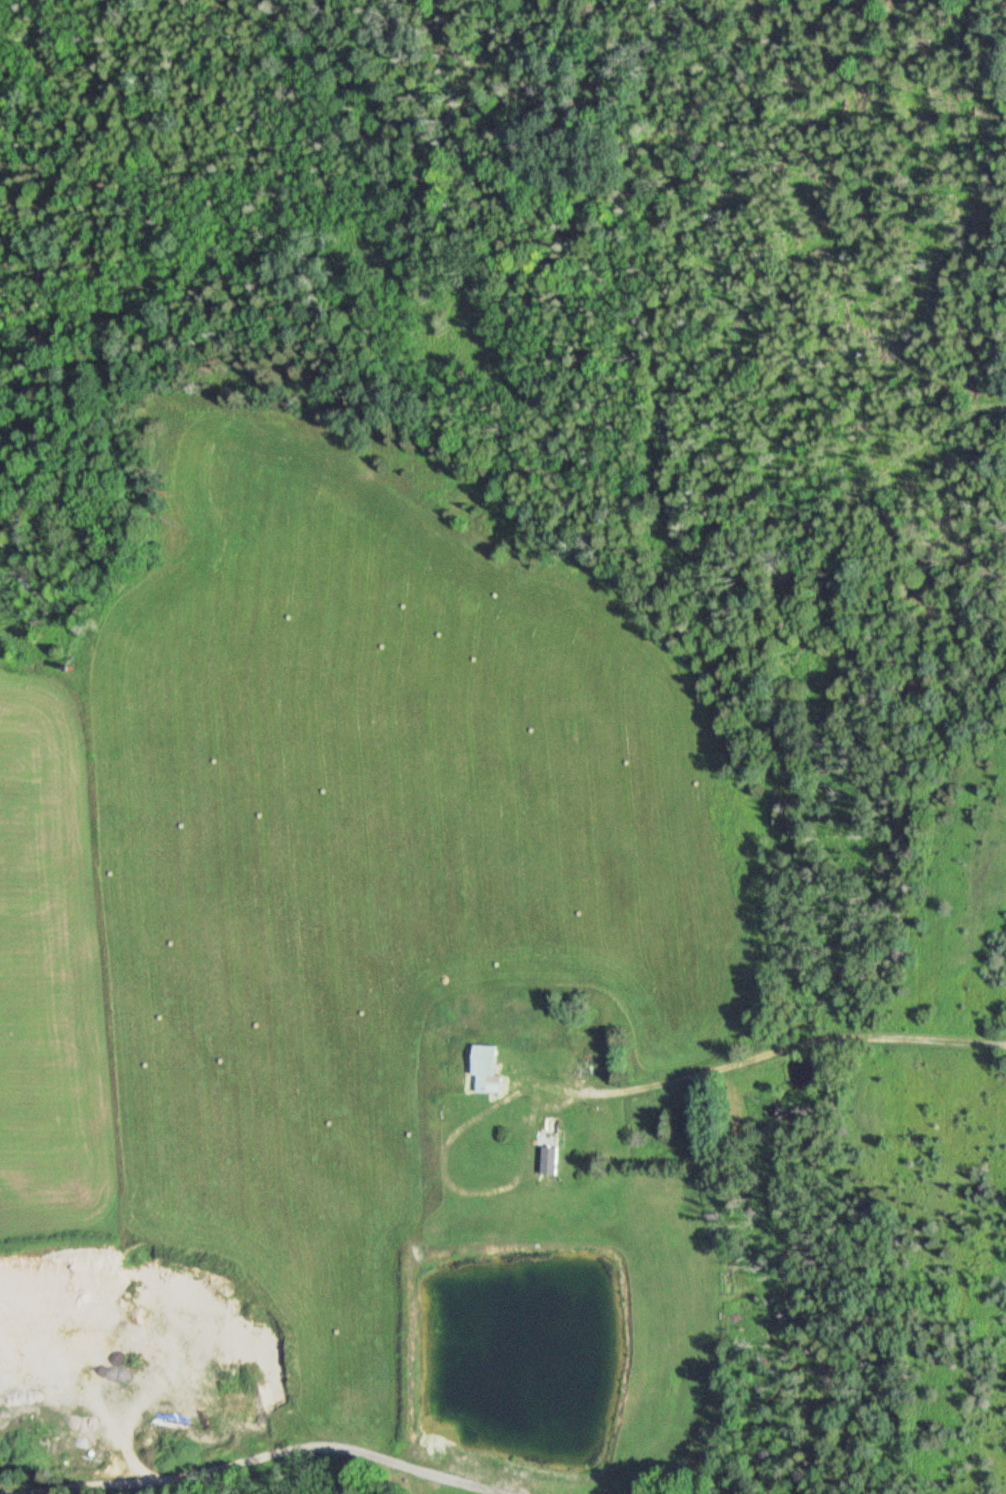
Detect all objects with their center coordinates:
road: (765, 1055)
building: (486, 1070)
building: (548, 1144)
road: (265, 1457)

